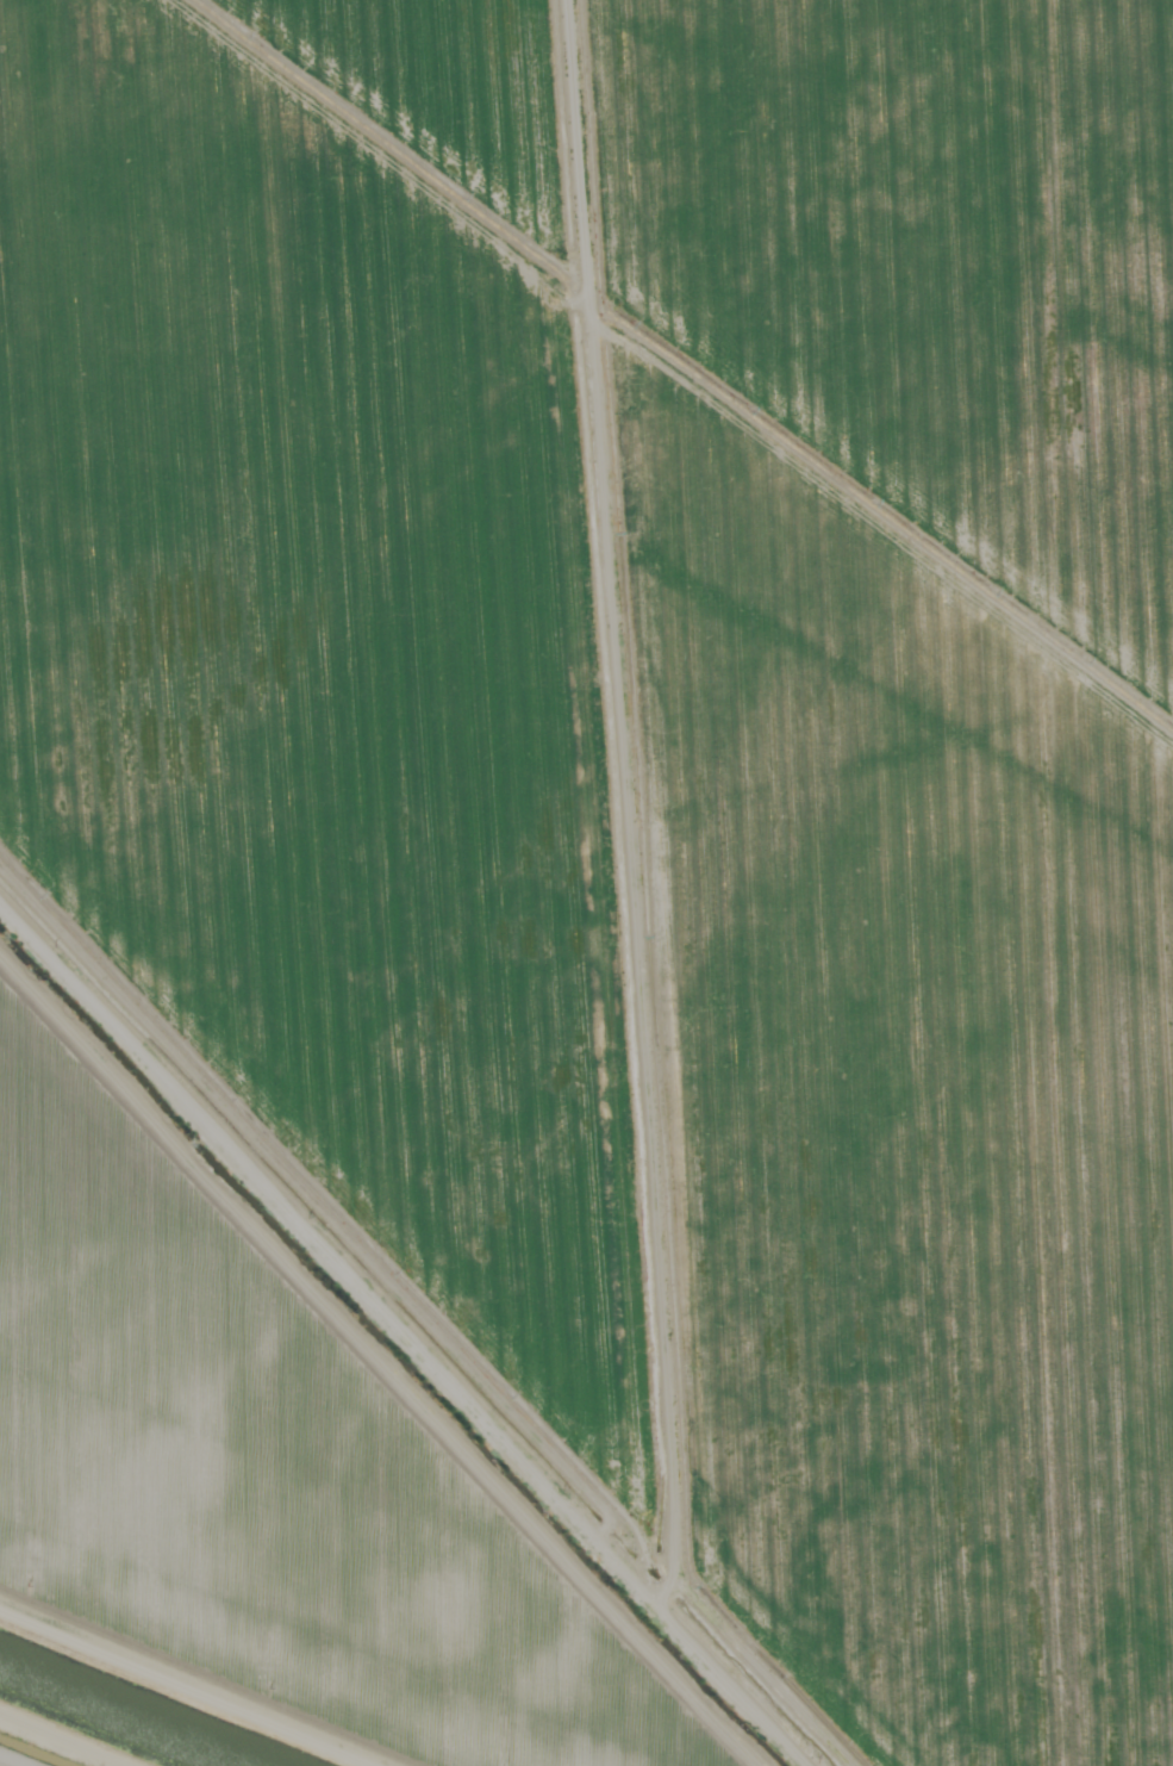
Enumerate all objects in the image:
road: (622, 750)
crop: (594, 866)
road: (437, 1299)
road: (304, 1640)
crop: (17, 1758)

